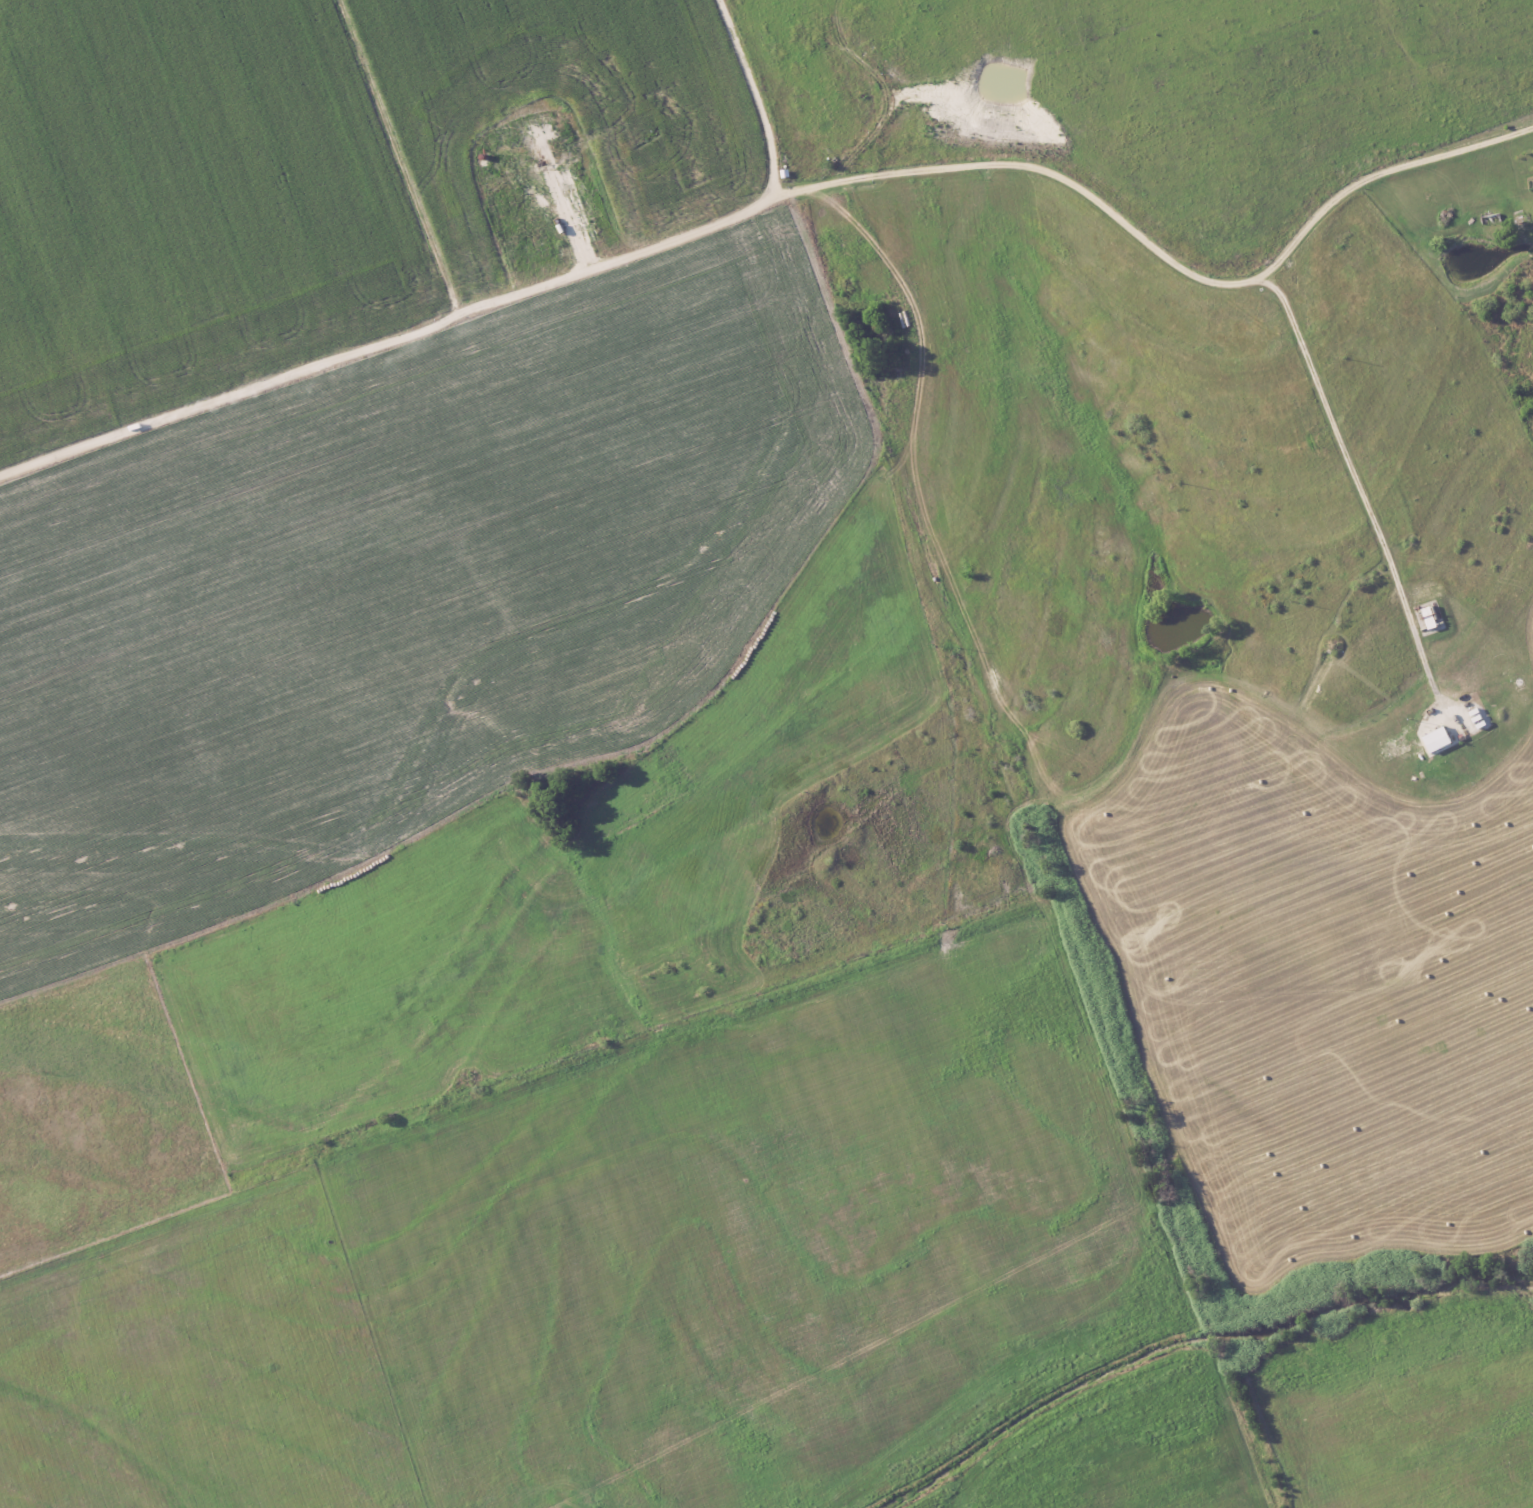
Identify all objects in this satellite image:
road: (403, 159)
road: (637, 252)
road: (1298, 337)
building: (1433, 740)

